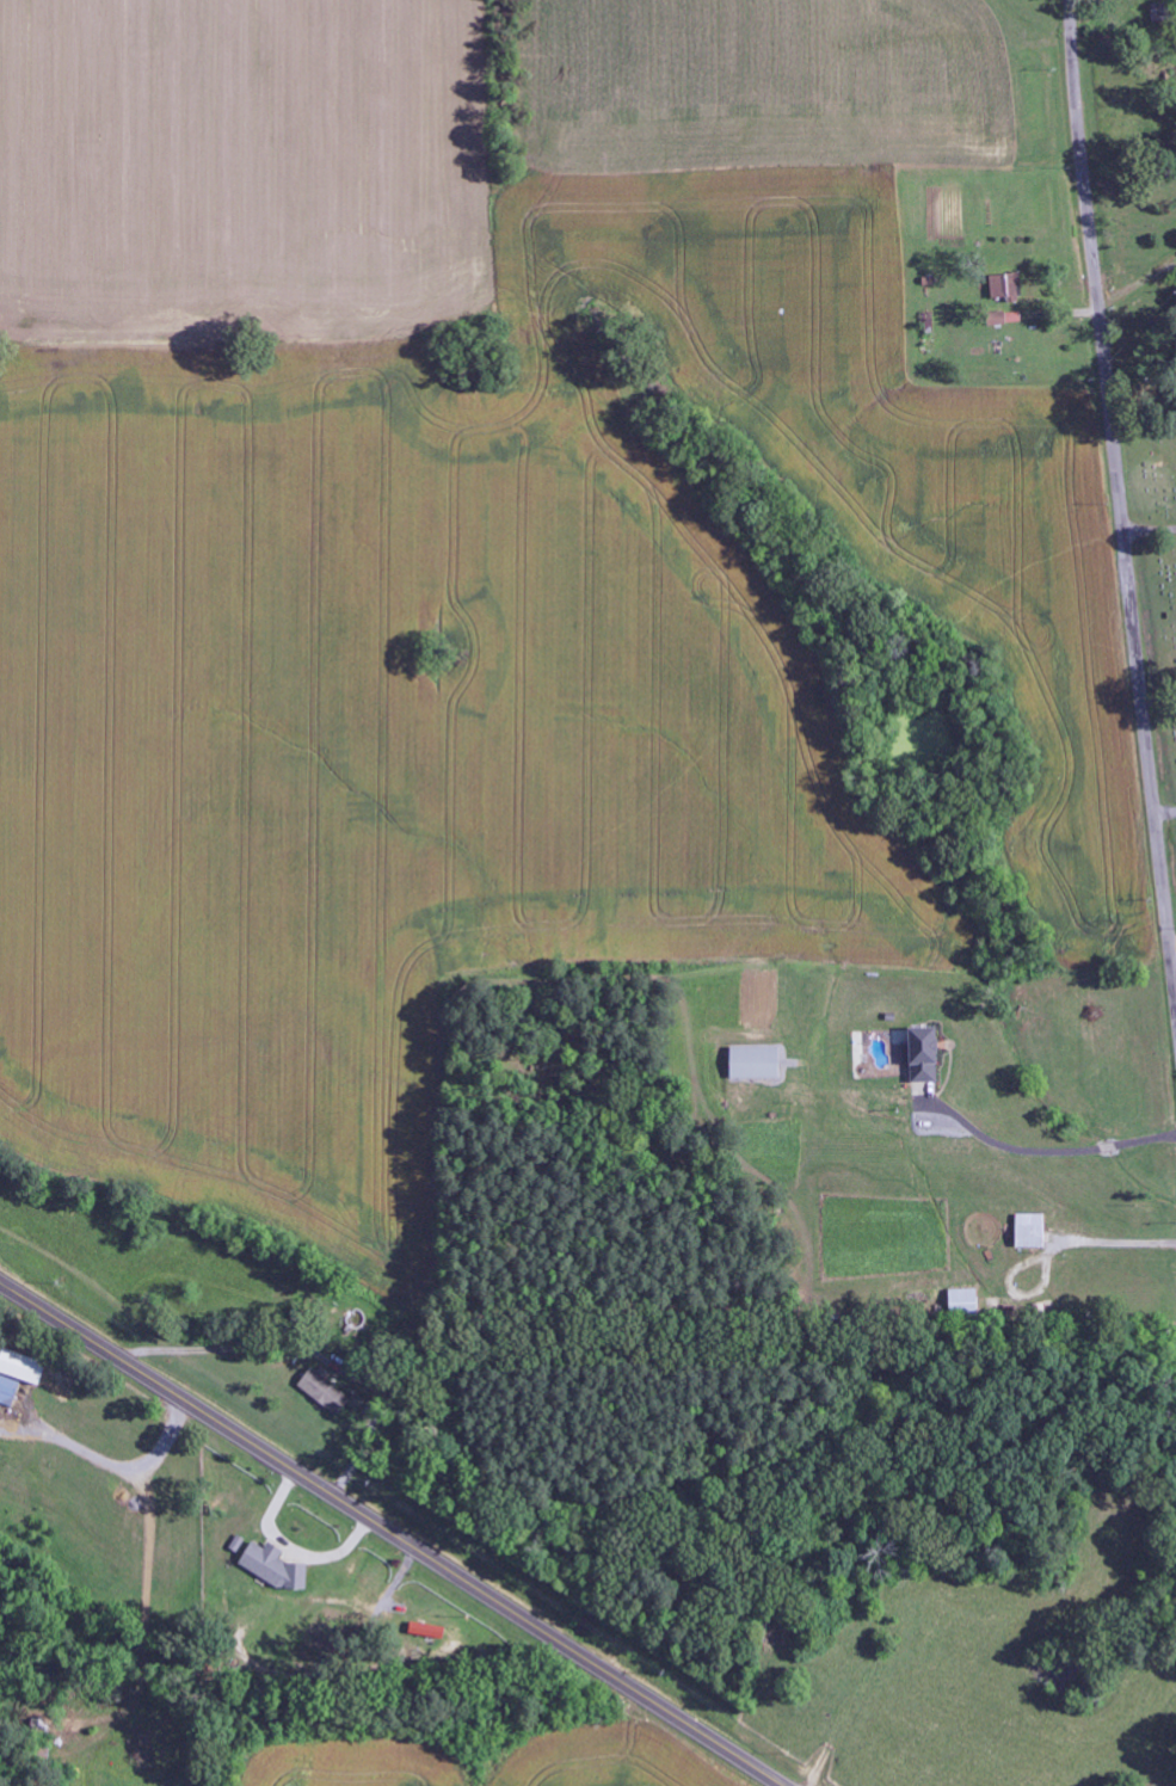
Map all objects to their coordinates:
building: (1008, 288)
road: (1117, 511)
park: (1159, 574)
building: (925, 1054)
building: (758, 1063)
building: (1033, 1231)
building: (963, 1301)
building: (25, 1367)
building: (10, 1391)
building: (326, 1392)
road: (392, 1533)
building: (277, 1568)

